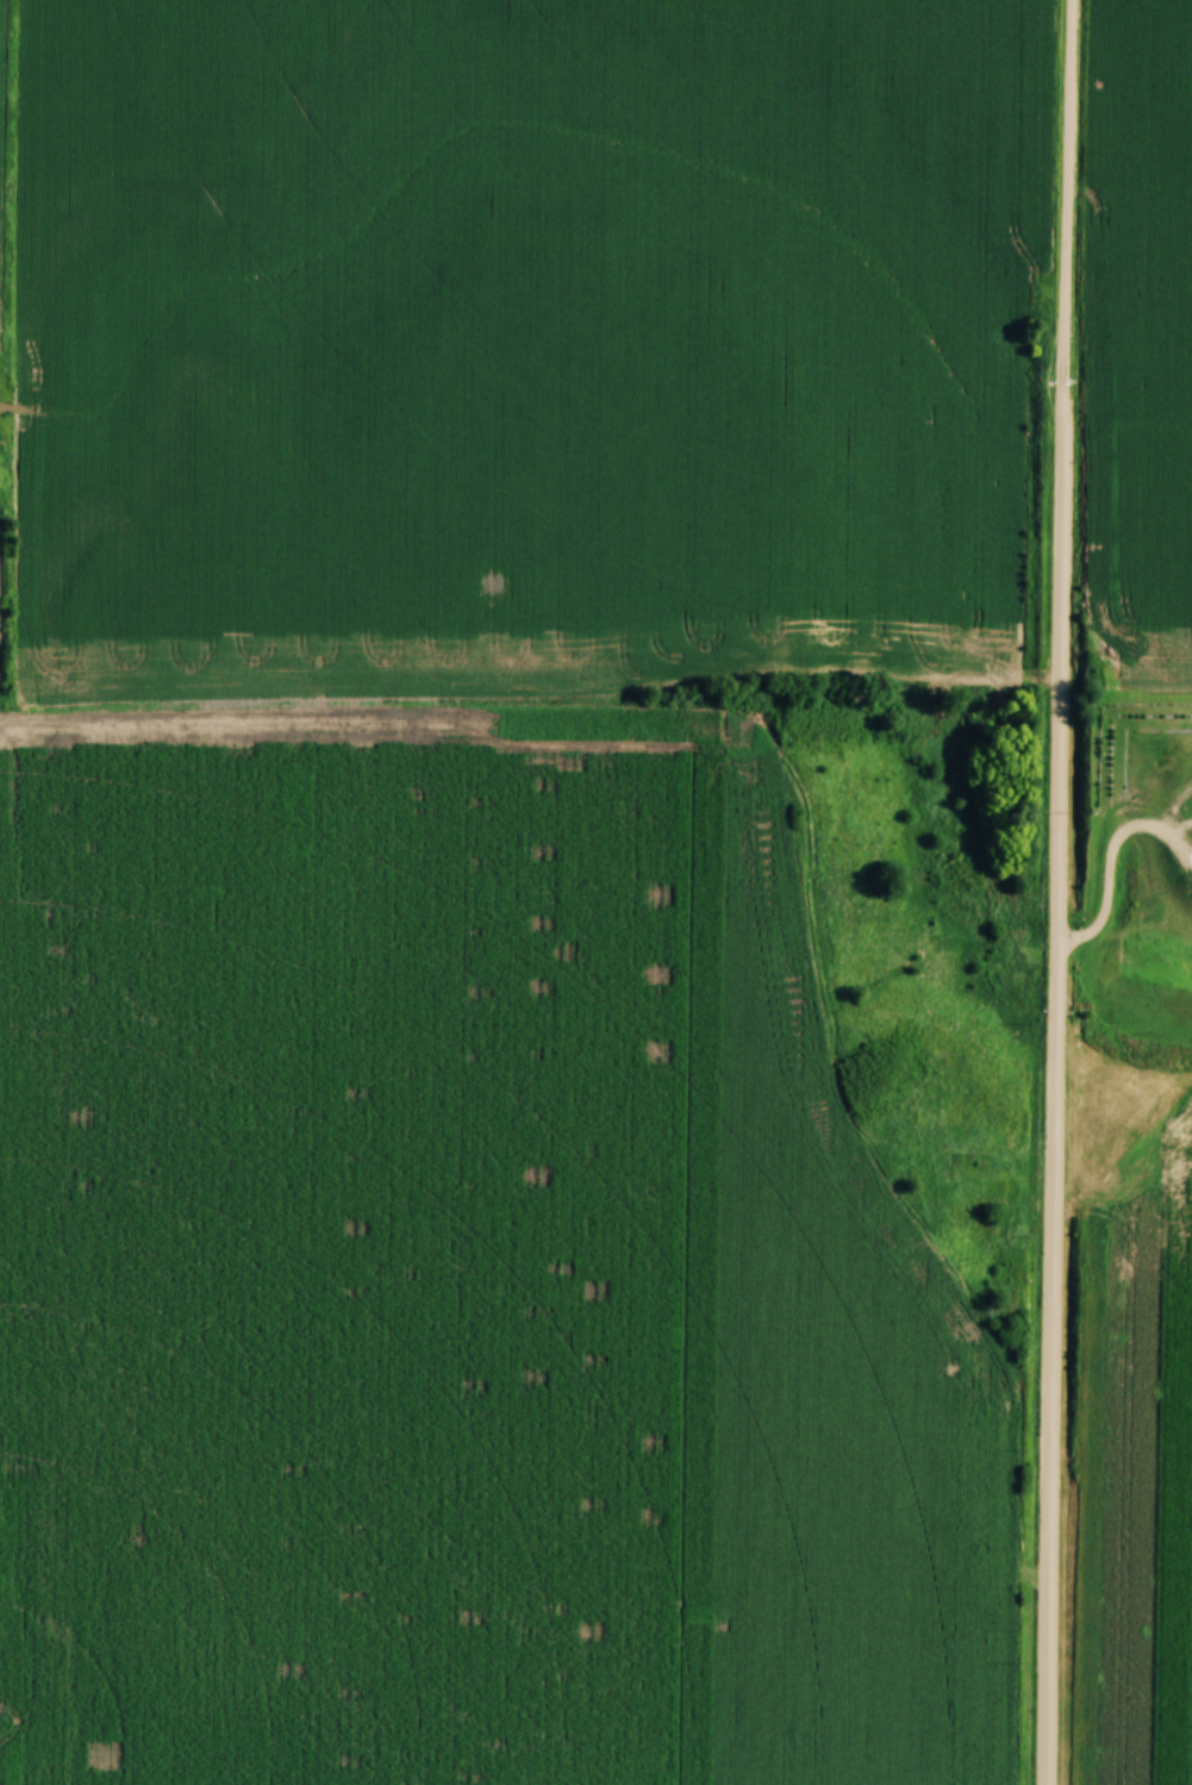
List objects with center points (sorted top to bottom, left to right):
crop: (4, 143)
road: (1061, 892)
crop: (464, 1274)

